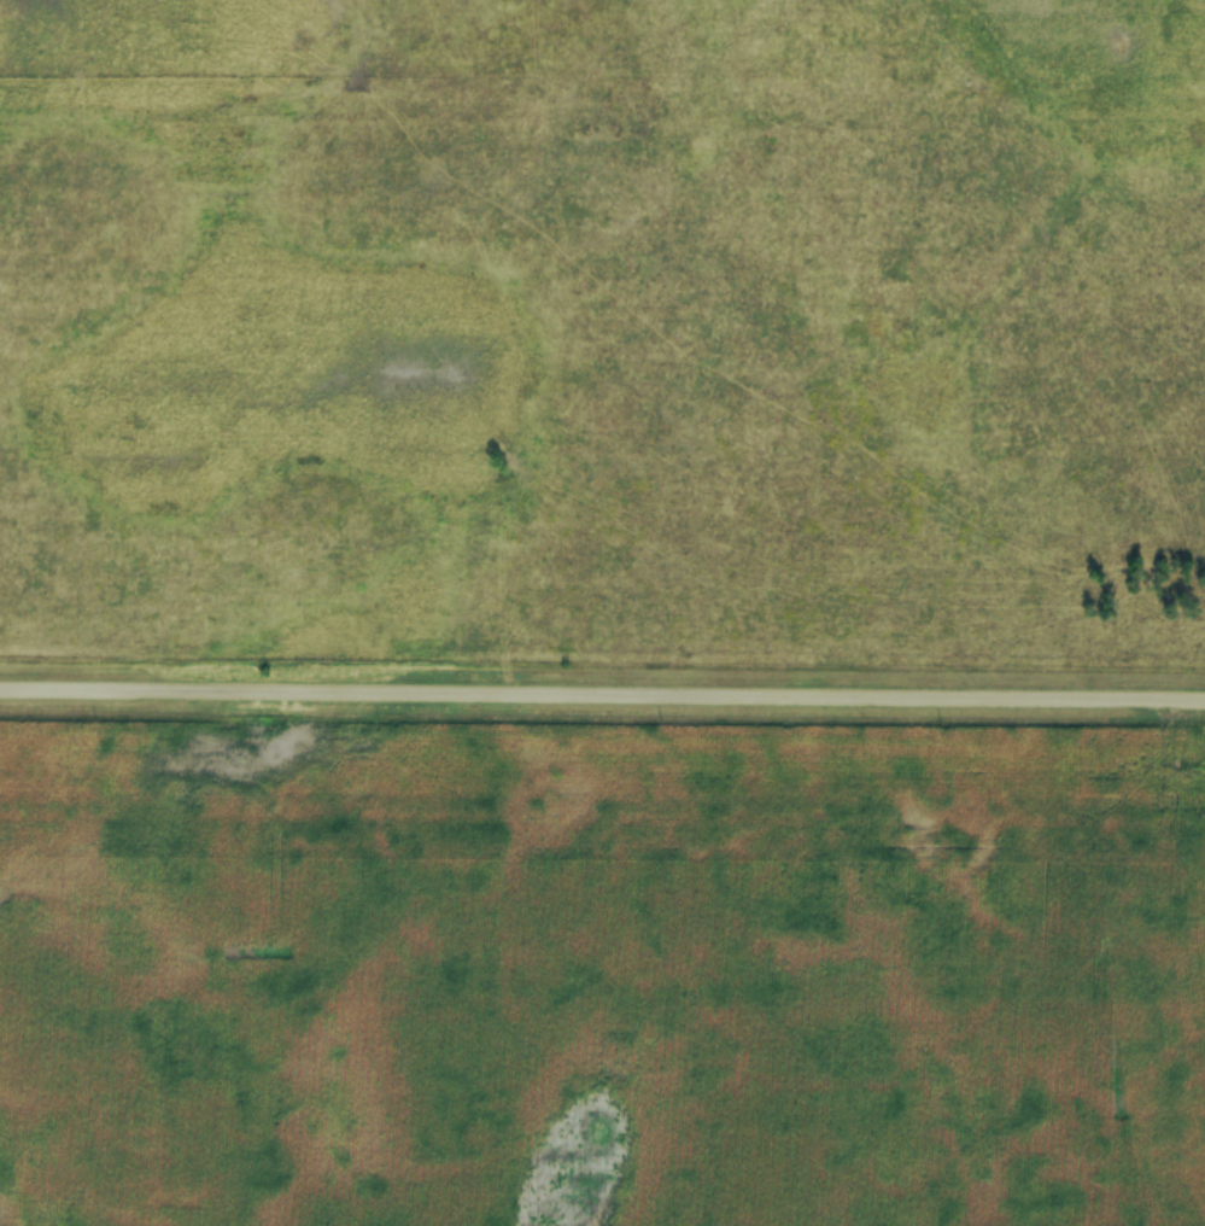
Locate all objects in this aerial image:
road: (602, 695)

